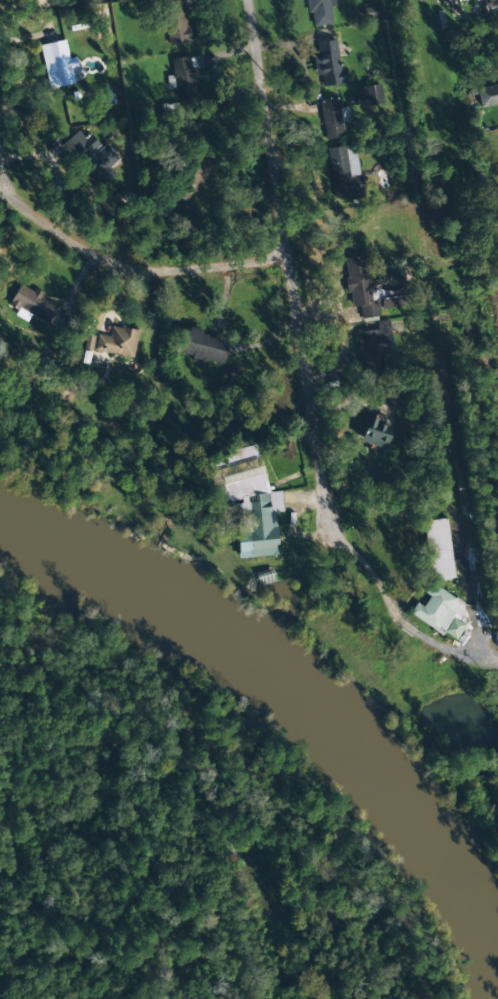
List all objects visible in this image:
building: (90, 1)
building: (319, 12)
building: (373, 14)
building: (175, 22)
building: (327, 63)
building: (58, 64)
building: (185, 77)
building: (369, 96)
building: (487, 96)
building: (332, 118)
building: (91, 157)
building: (344, 171)
building: (195, 175)
road: (285, 265)
road: (131, 270)
building: (366, 290)
building: (33, 304)
building: (89, 342)
building: (117, 342)
building: (200, 346)
building: (373, 347)
building: (375, 434)
building: (250, 505)
building: (437, 549)
building: (442, 613)
river: (308, 707)

